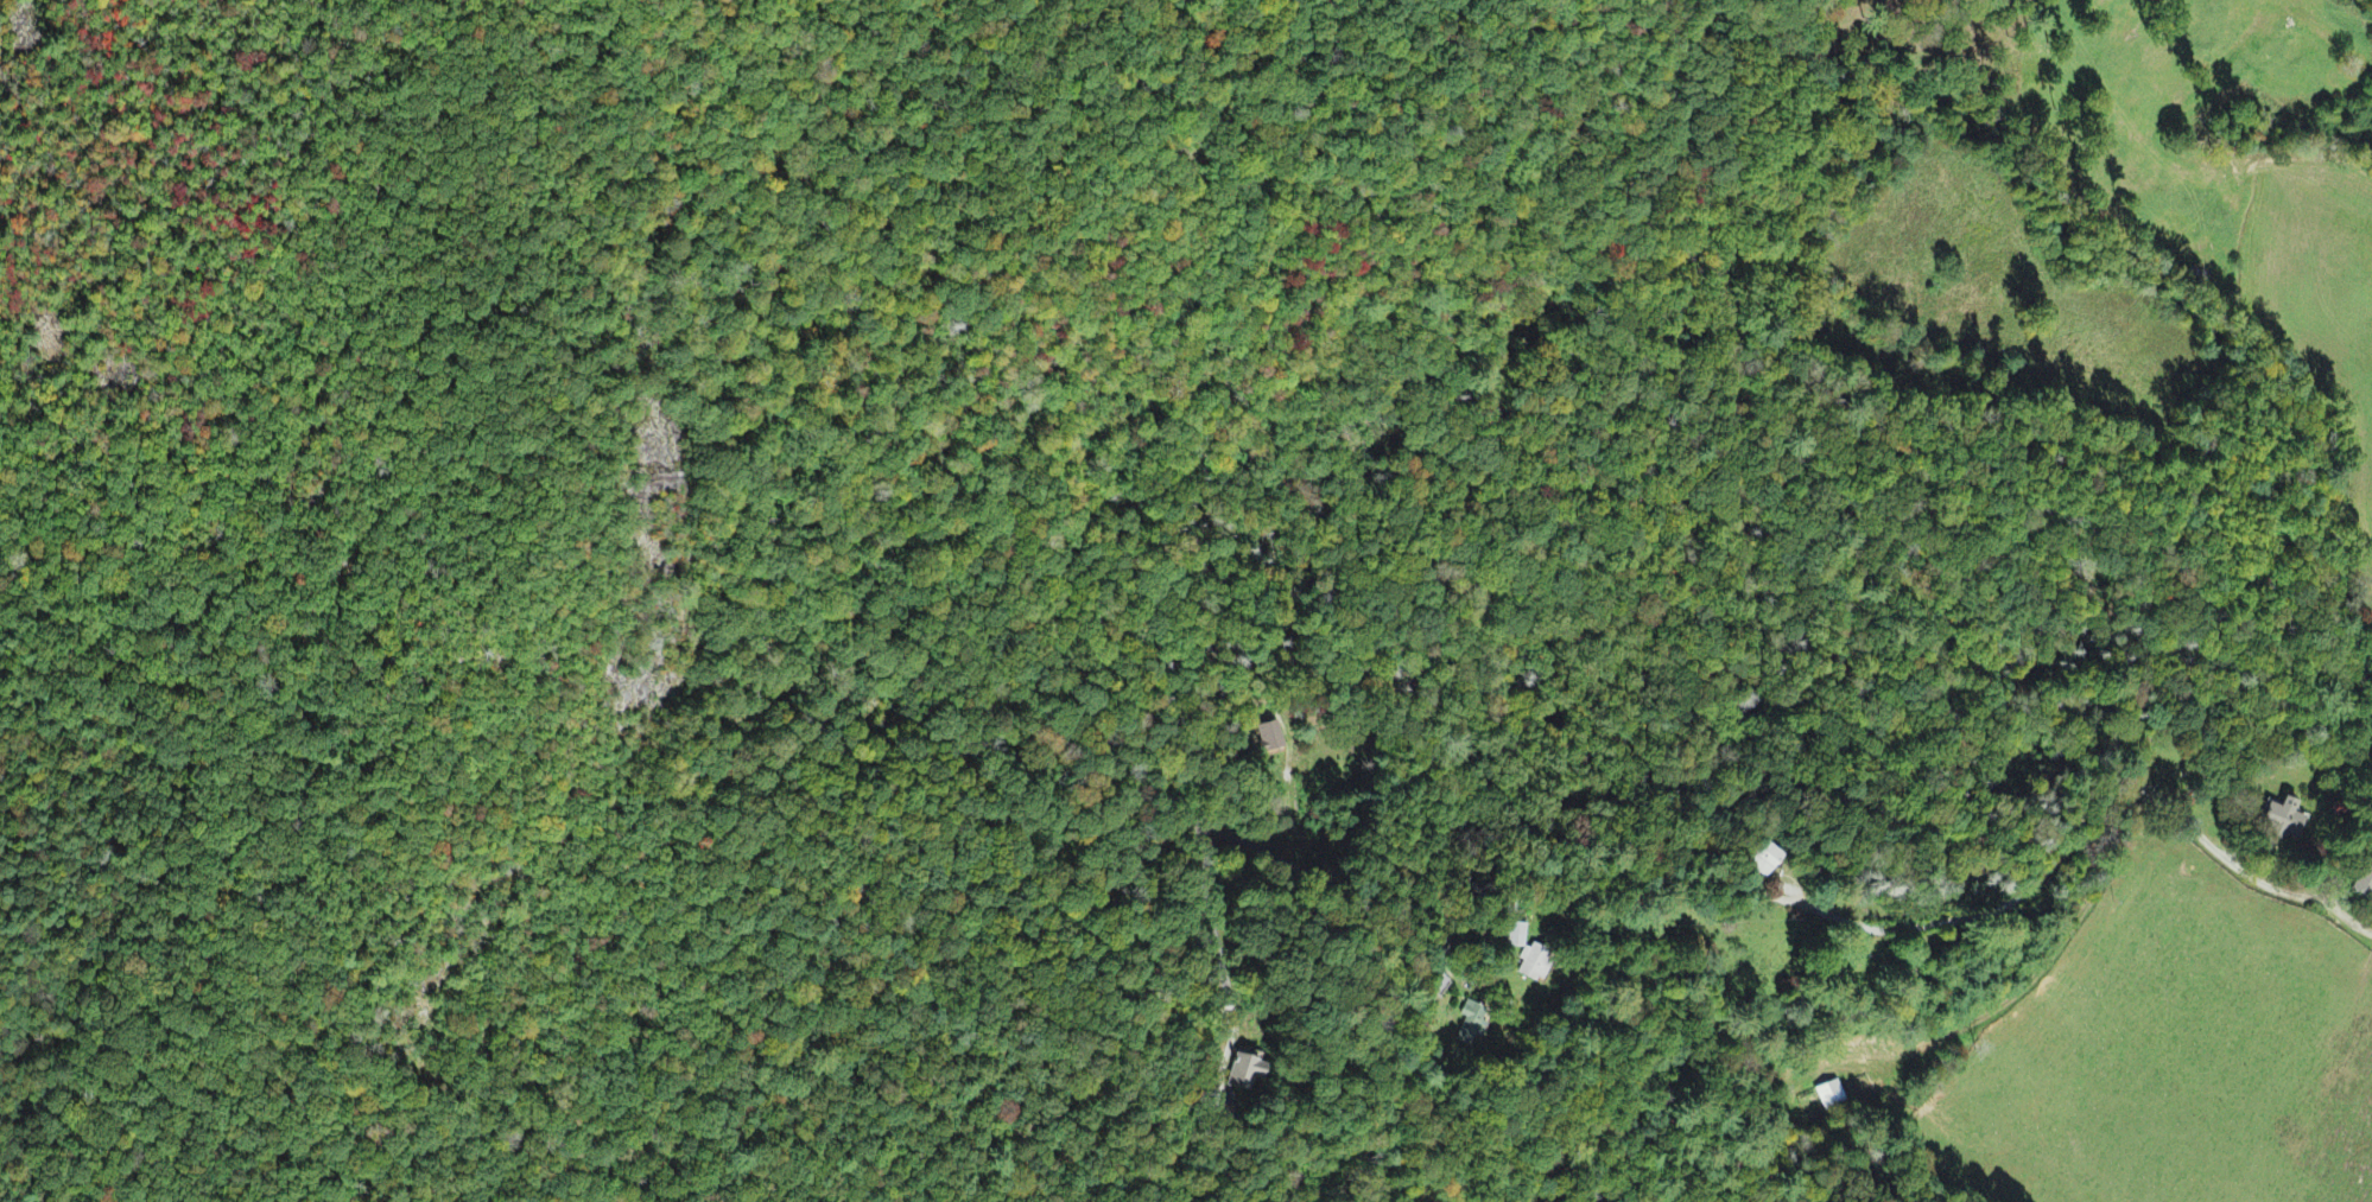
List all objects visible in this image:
building: (1270, 739)
building: (2284, 821)
building: (2364, 885)
road: (1942, 901)
building: (1515, 937)
building: (1536, 965)
building: (1472, 1028)
building: (1829, 1098)

